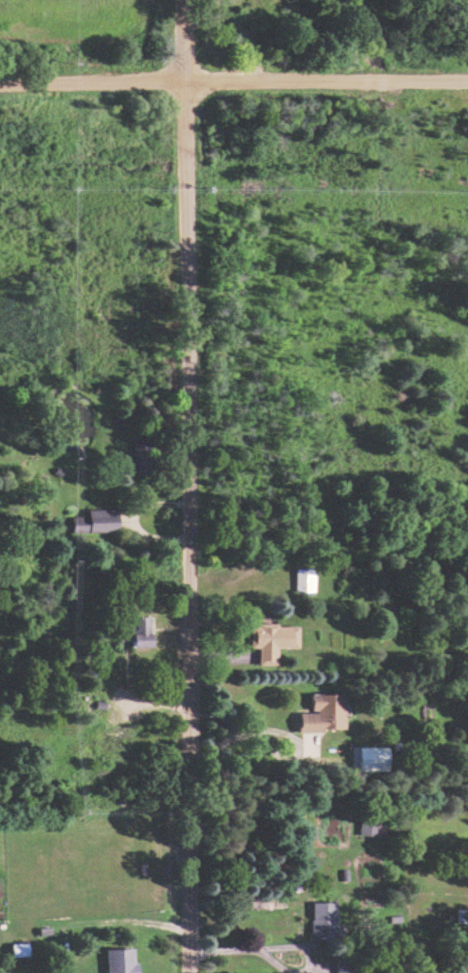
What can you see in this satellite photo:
crop: (72, 15)
road: (233, 77)
building: (136, 458)
road: (181, 486)
building: (95, 520)
building: (301, 579)
building: (134, 632)
building: (269, 640)
building: (320, 713)
building: (367, 758)
building: (368, 827)
building: (321, 920)
road: (285, 947)
building: (16, 949)
building: (117, 960)
building: (341, 965)

